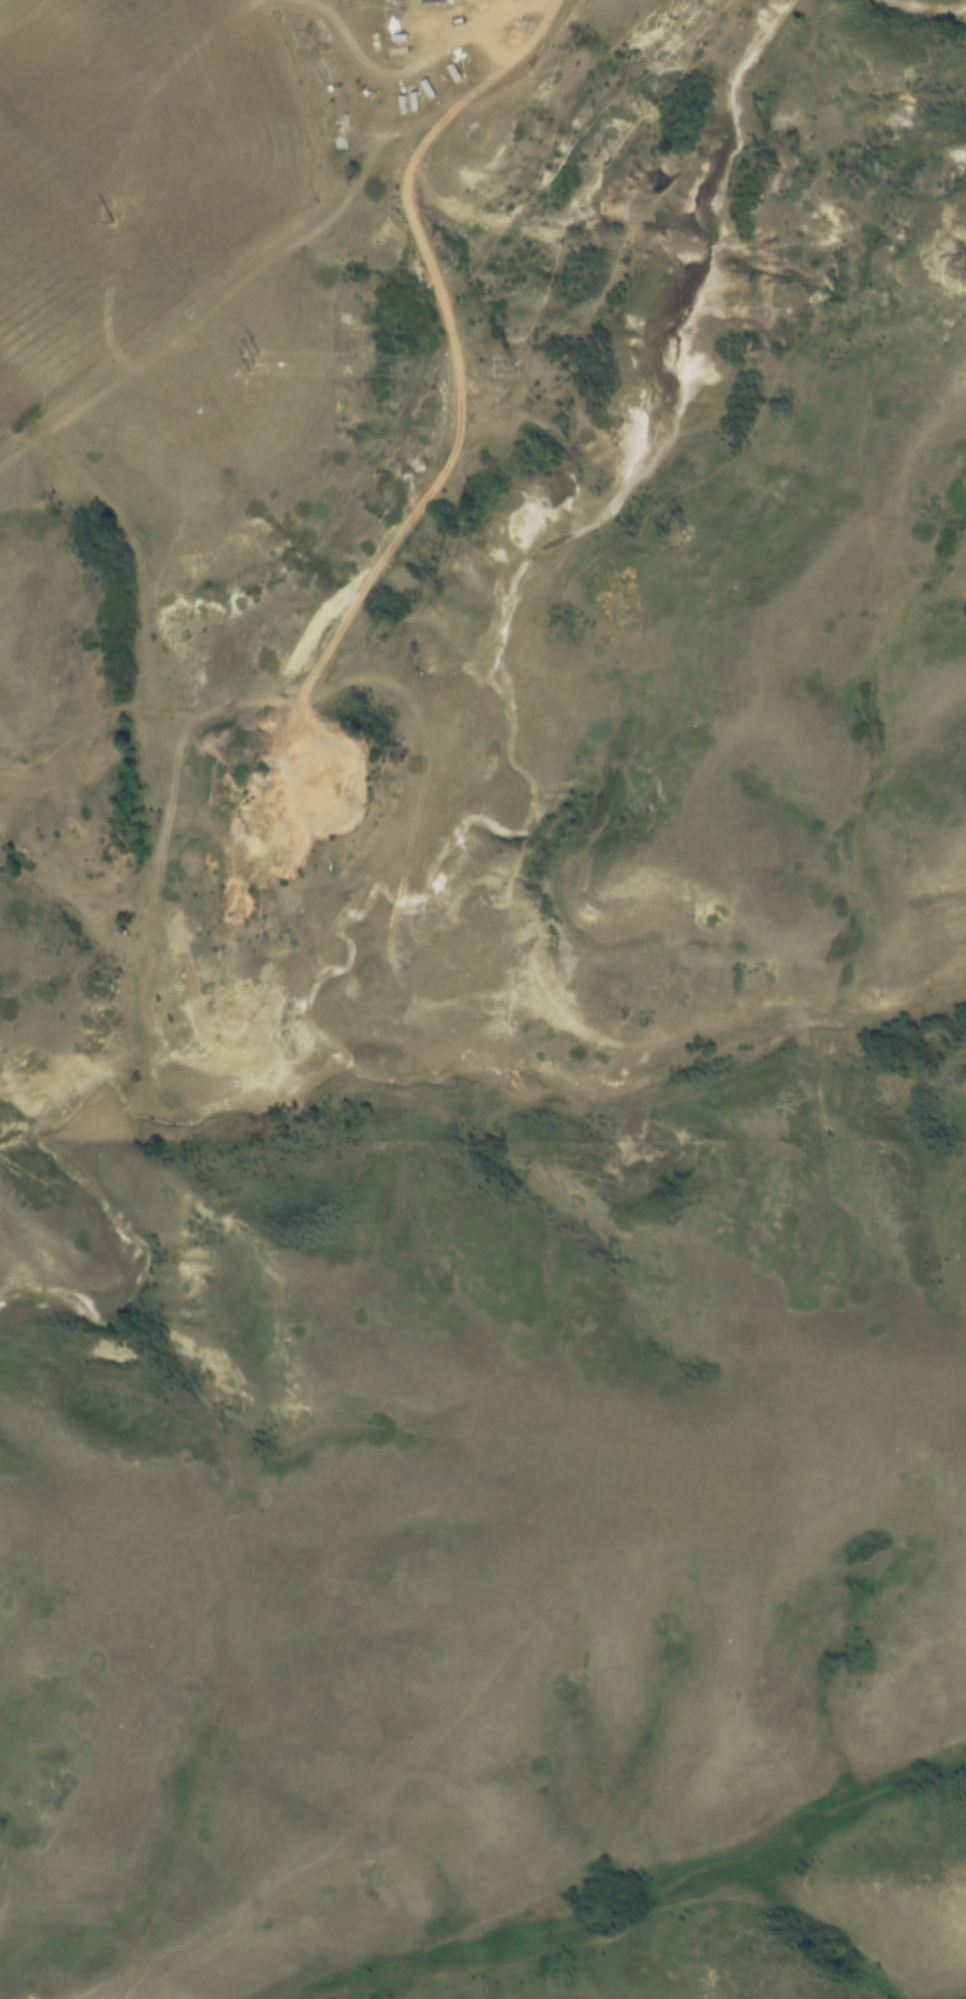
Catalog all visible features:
road: (325, 9)
road: (439, 63)
road: (450, 335)
power tower: (256, 362)
power tower: (516, 366)

